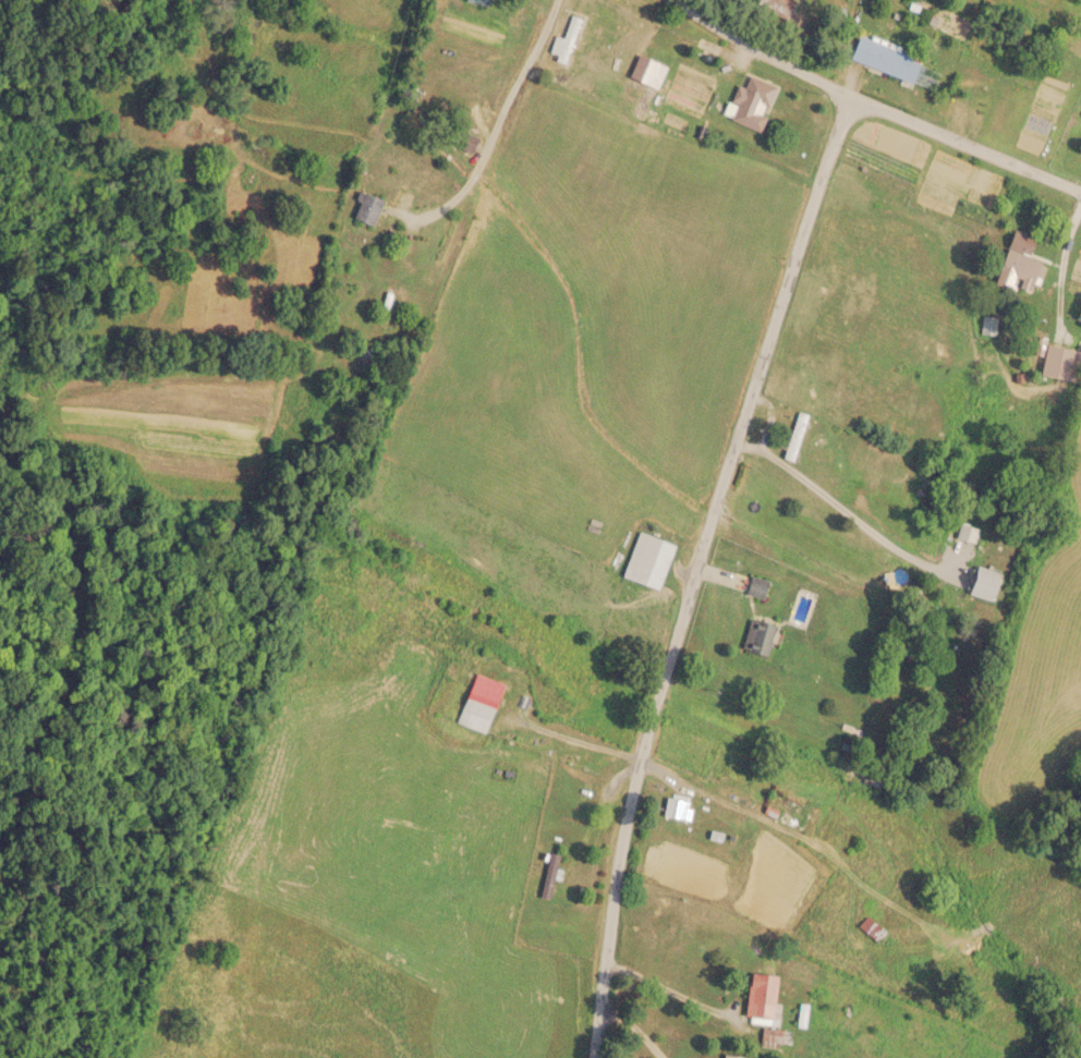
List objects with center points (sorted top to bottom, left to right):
building: (472, 0)
road: (758, 49)
building: (884, 59)
road: (208, 96)
building: (750, 102)
building: (462, 141)
road: (963, 142)
building: (363, 208)
building: (1017, 267)
building: (1059, 364)
building: (792, 438)
building: (968, 534)
building: (644, 561)
road: (696, 570)
building: (982, 583)
building: (755, 588)
building: (755, 637)
building: (477, 704)
building: (548, 876)
building: (758, 997)
building: (731, 1057)

